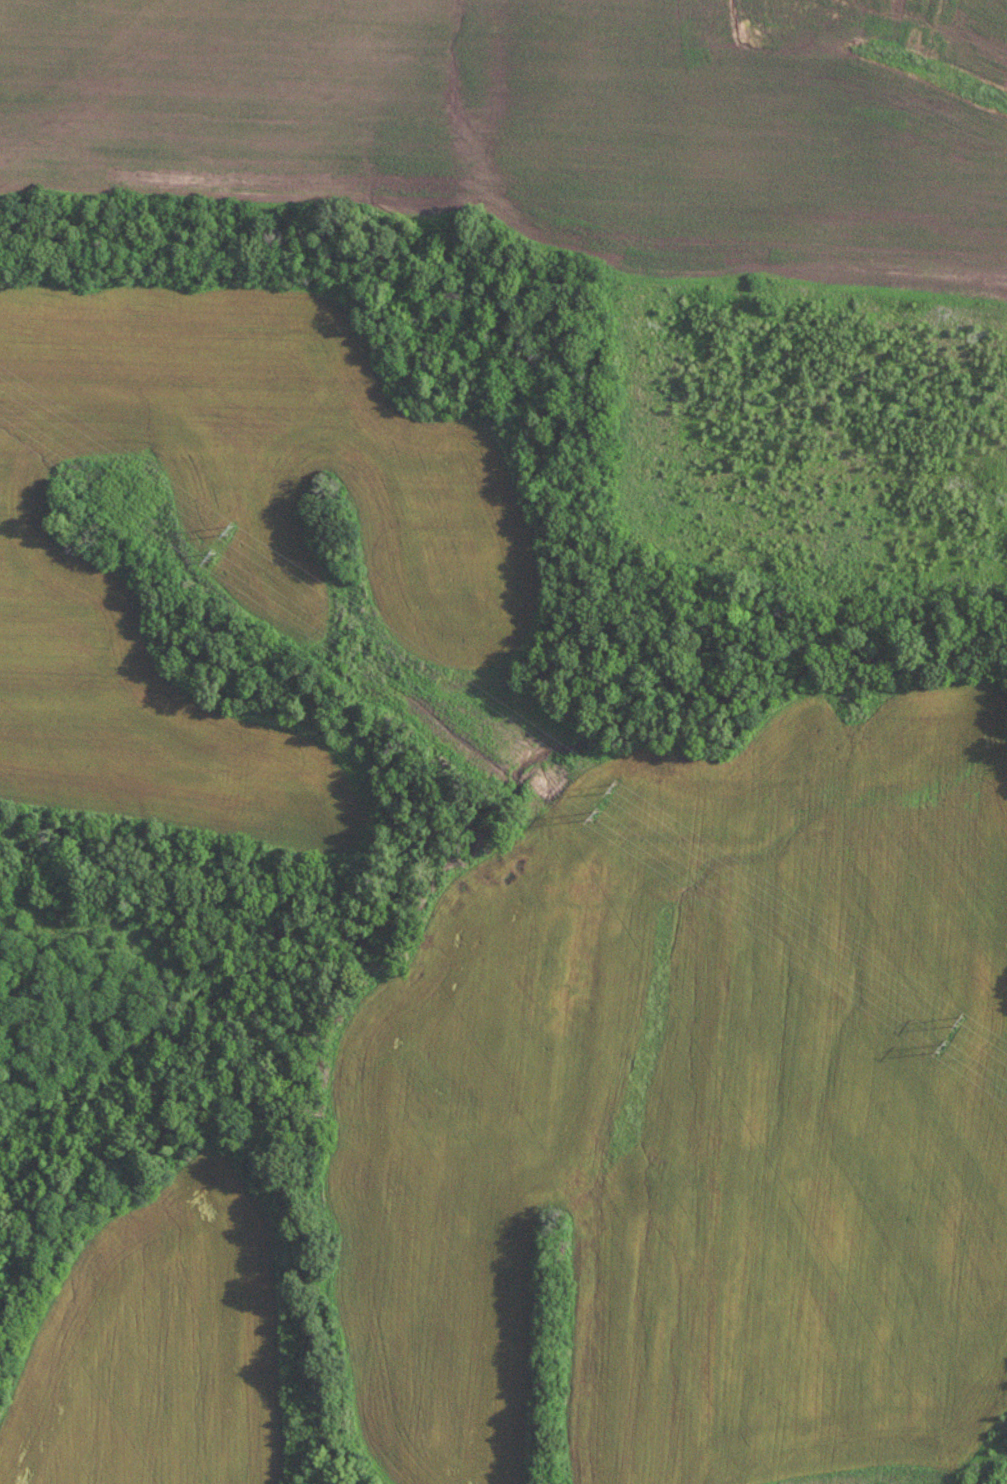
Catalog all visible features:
power tower: (226, 531)
power tower: (206, 557)
power tower: (607, 790)
power tower: (595, 816)
power tower: (944, 1020)
power tower: (930, 1044)

